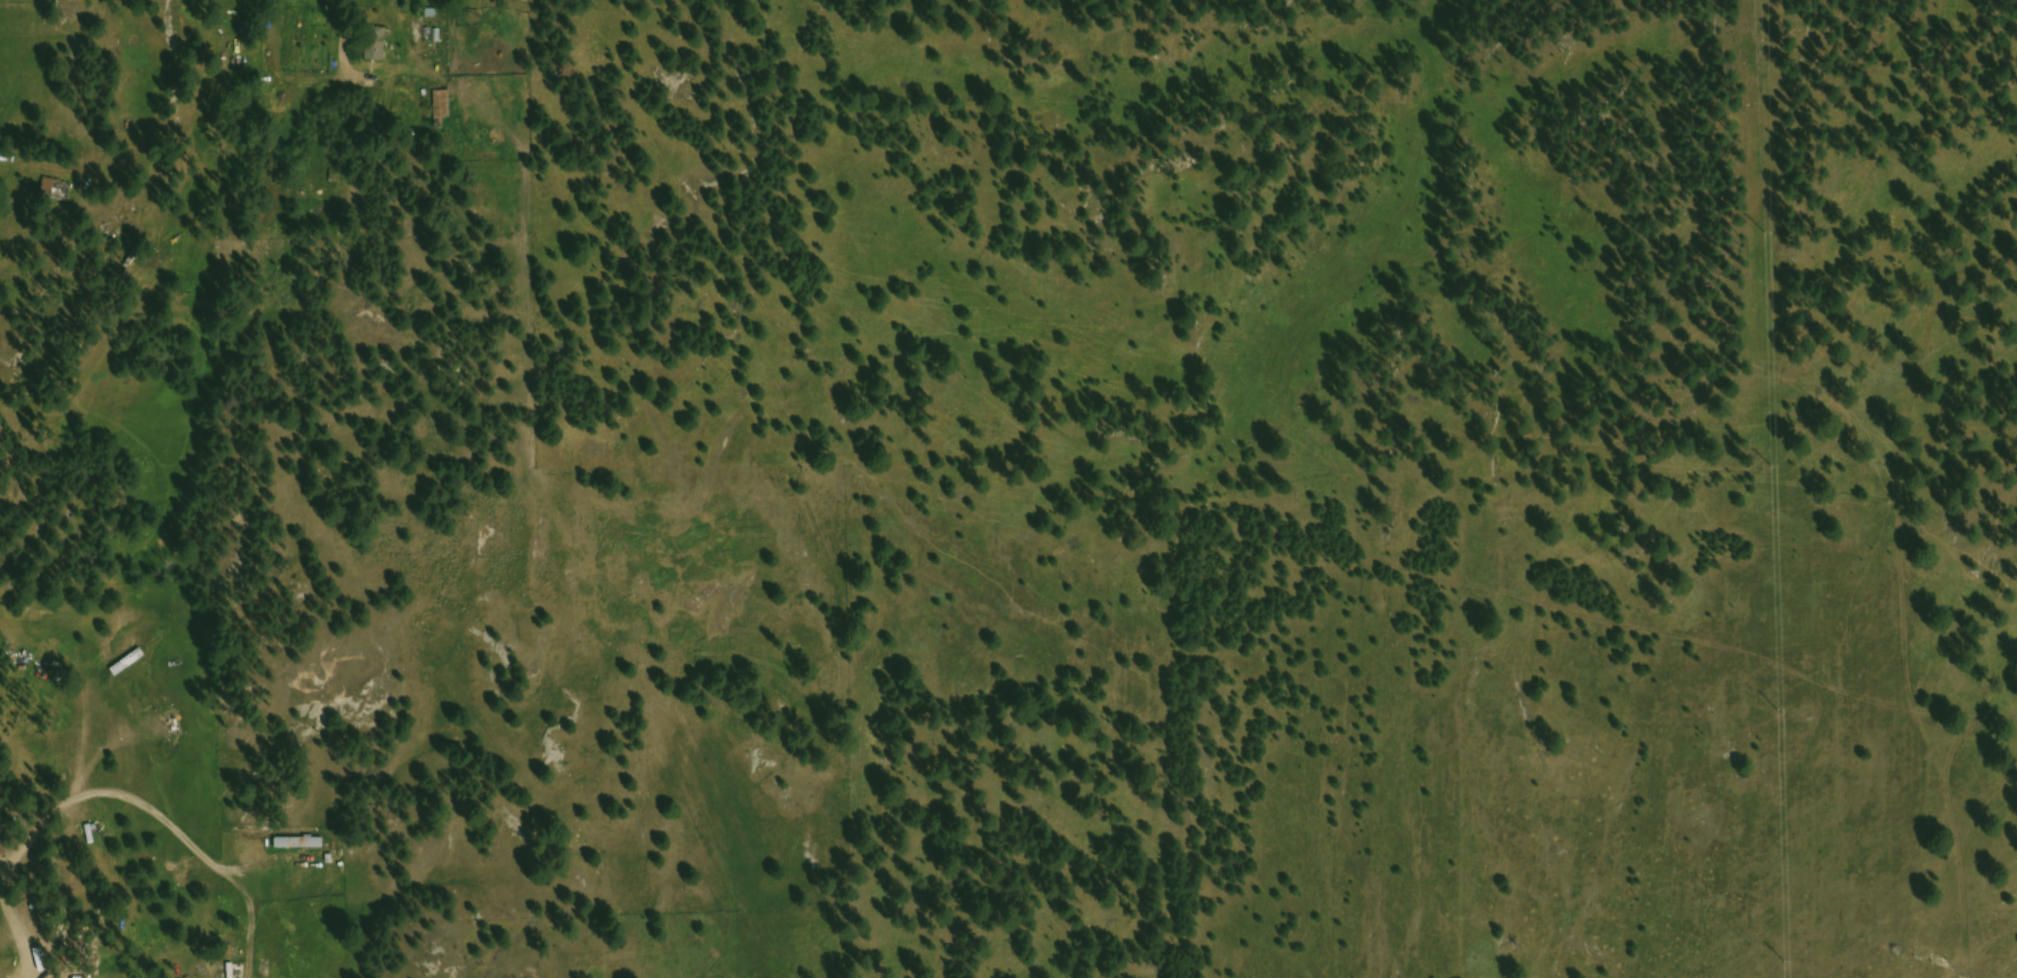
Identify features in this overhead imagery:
building: (378, 46)
building: (444, 110)
building: (7, 161)
building: (58, 191)
building: (301, 844)

